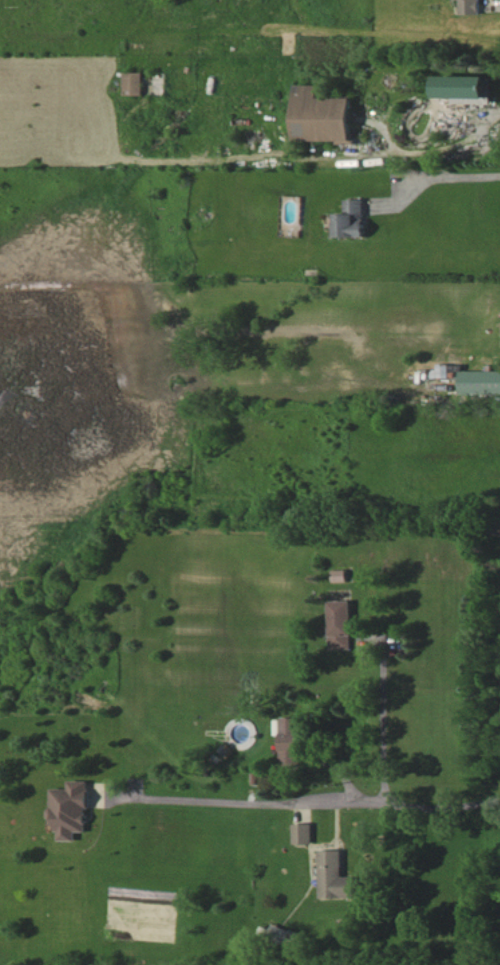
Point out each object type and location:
building: (477, 8)
building: (138, 86)
road: (428, 151)
road: (455, 176)
building: (484, 385)
building: (345, 627)
road: (380, 720)
building: (293, 741)
road: (231, 801)
road: (424, 805)
building: (77, 812)
building: (335, 876)

